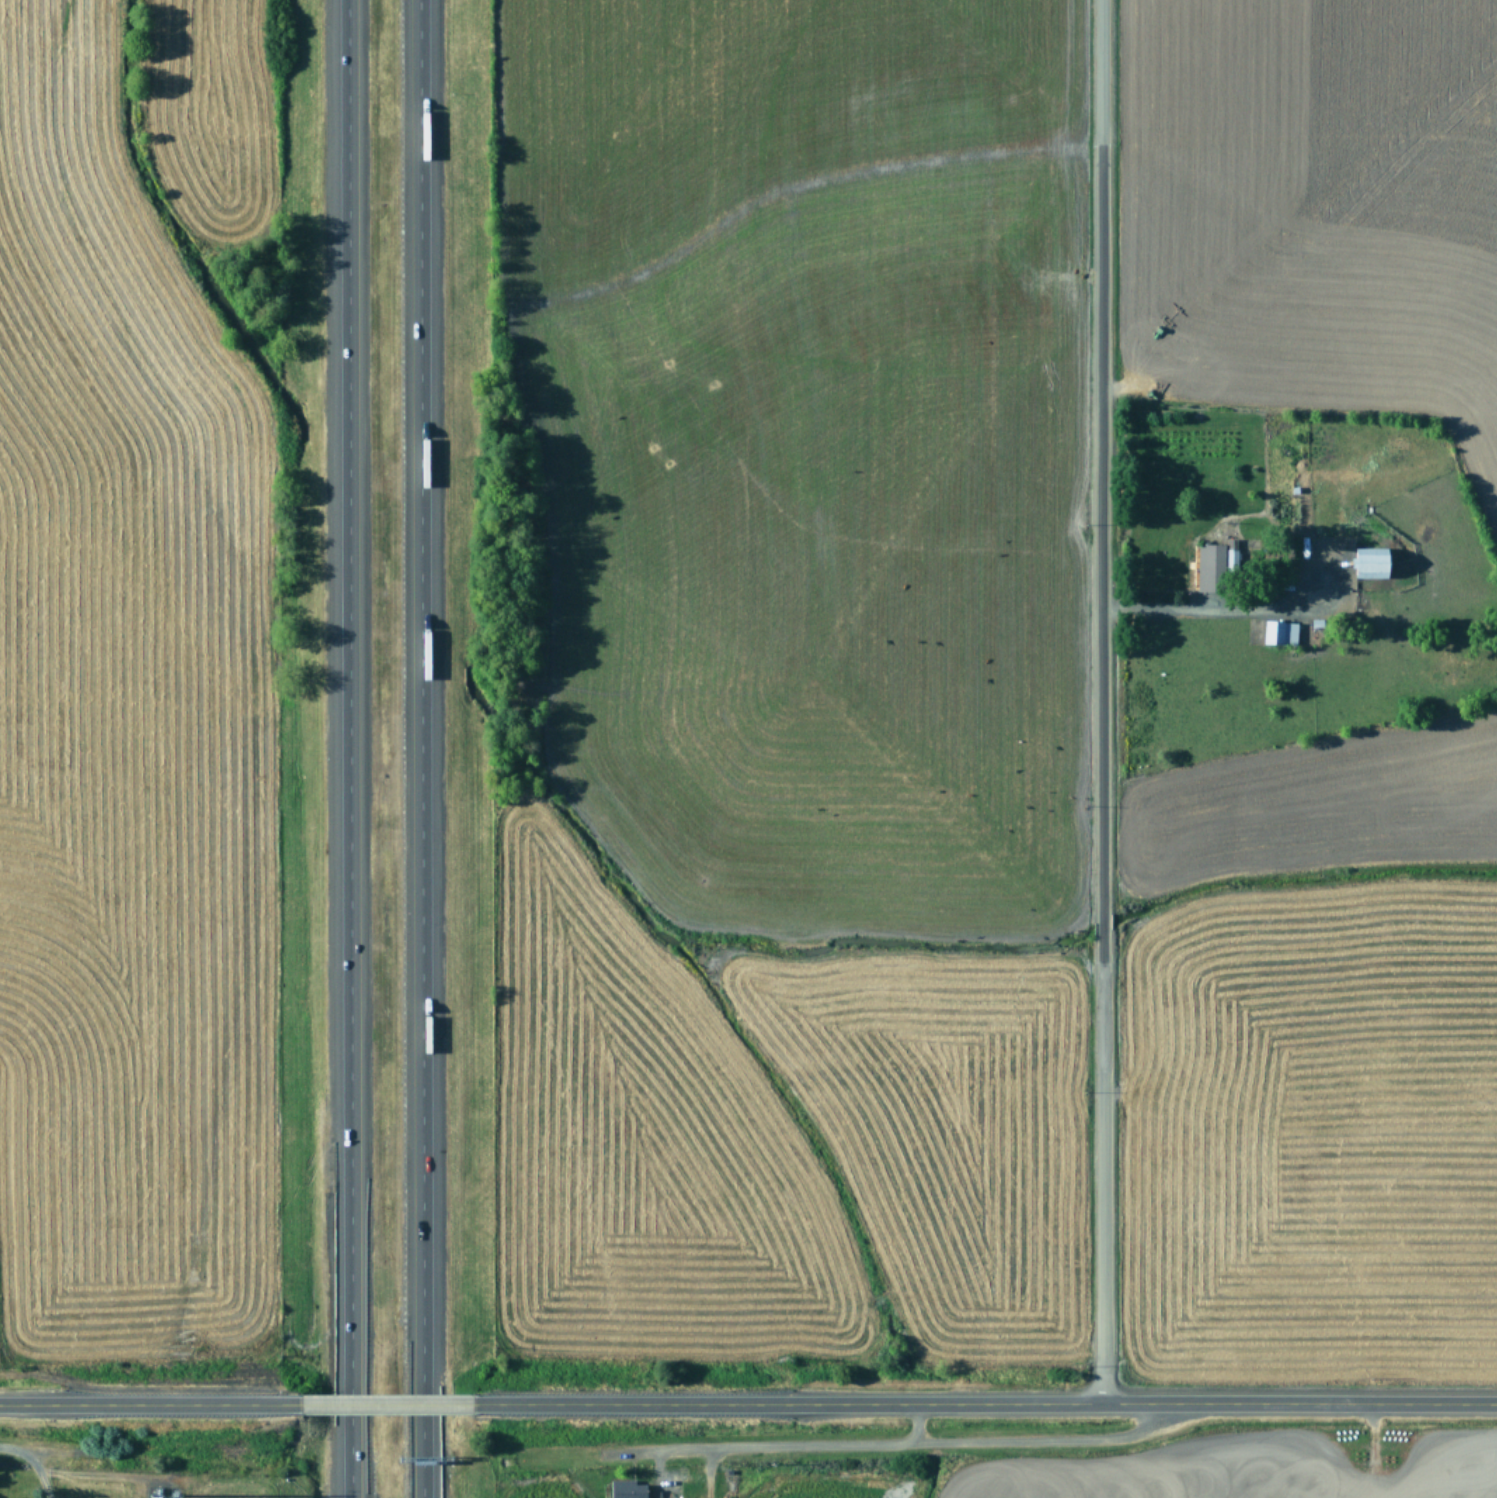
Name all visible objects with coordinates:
building: (1369, 563)
road: (1216, 606)
building: (1279, 633)
crop: (159, 684)
road: (1101, 701)
road: (363, 748)
crop: (1003, 748)
road: (423, 749)
road: (987, 1403)
road: (387, 1404)
road: (148, 1405)
road: (896, 1446)
road: (30, 1462)
crop: (143, 1473)
building: (625, 1489)

